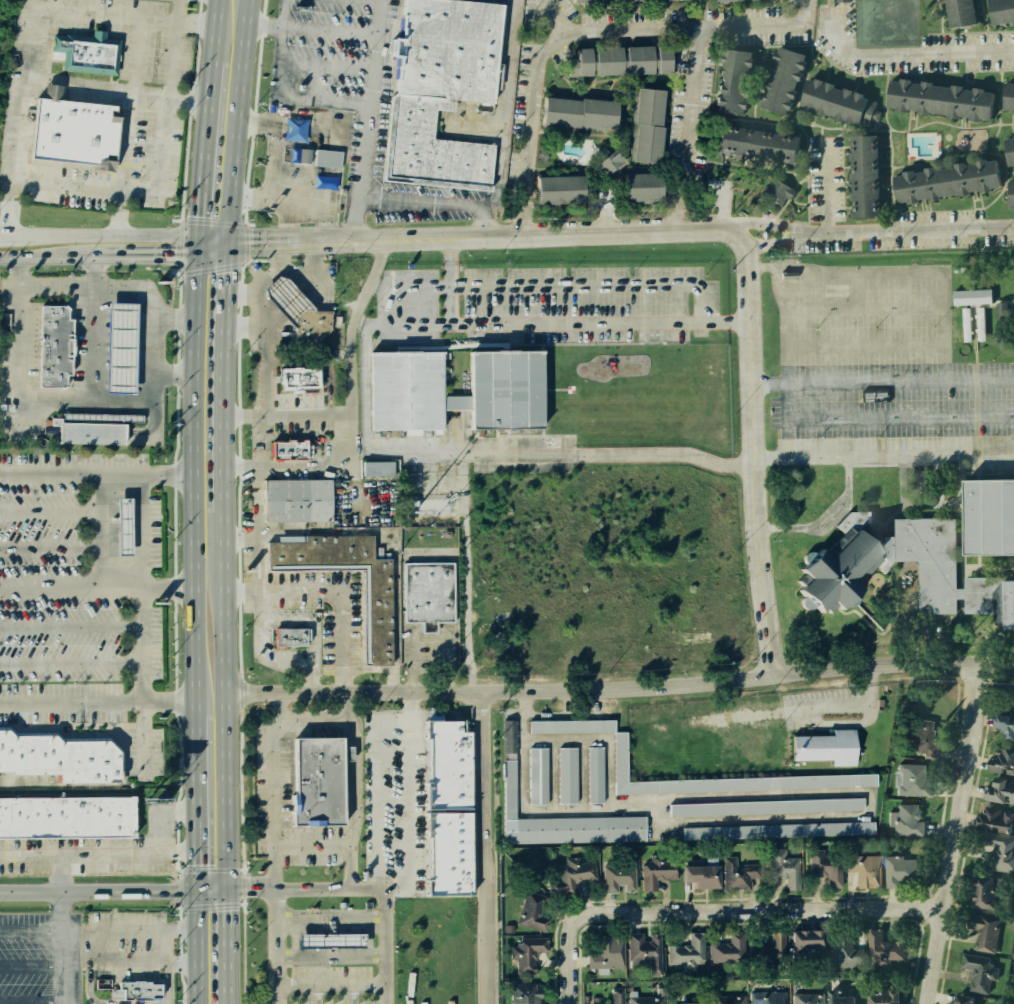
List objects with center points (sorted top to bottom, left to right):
building: (607, 0)
building: (732, 0)
building: (843, 1)
building: (1000, 10)
building: (957, 12)
road: (122, 13)
road: (684, 17)
building: (886, 20)
road: (262, 22)
parking lot: (128, 35)
building: (90, 52)
road: (902, 54)
road: (505, 60)
building: (615, 60)
building: (729, 80)
building: (778, 80)
building: (437, 89)
road: (113, 91)
road: (274, 92)
building: (935, 97)
road: (530, 100)
building: (1007, 100)
building: (836, 101)
road: (130, 102)
parking lot: (358, 103)
road: (687, 105)
building: (1013, 110)
building: (572, 112)
road: (16, 116)
road: (364, 120)
road: (254, 123)
building: (641, 126)
road: (204, 128)
building: (293, 128)
building: (74, 131)
building: (752, 141)
building: (1008, 149)
building: (312, 156)
building: (605, 159)
road: (498, 166)
parking lot: (119, 168)
building: (861, 175)
building: (942, 180)
road: (159, 181)
building: (322, 181)
road: (825, 184)
building: (635, 185)
building: (555, 187)
road: (269, 189)
building: (1010, 190)
building: (778, 192)
road: (248, 199)
road: (434, 200)
road: (676, 209)
road: (118, 212)
road: (524, 218)
road: (478, 219)
road: (288, 220)
road: (323, 220)
road: (756, 224)
road: (702, 228)
road: (807, 231)
road: (0, 232)
road: (113, 234)
road: (919, 234)
traffic signals: (197, 236)
traffic signals: (225, 244)
road: (210, 251)
road: (155, 258)
traffic signals: (196, 258)
road: (43, 259)
road: (100, 259)
street lamp: (729, 268)
street lamp: (706, 273)
street lamp: (504, 275)
street lamp: (630, 275)
street lamp: (567, 276)
road: (448, 280)
road: (566, 283)
building: (969, 297)
building: (1012, 298)
road: (148, 303)
parking lot: (541, 305)
street lamp: (438, 306)
road: (785, 311)
building: (1002, 311)
road: (172, 319)
building: (5, 321)
road: (571, 323)
building: (964, 324)
building: (979, 324)
building: (310, 325)
street lamp: (933, 327)
street lamp: (873, 328)
road: (89, 329)
street lamp: (816, 329)
flagpole: (460, 333)
flagpole: (453, 334)
flagpole: (447, 336)
building: (53, 345)
building: (116, 346)
gas station: (116, 346)
road: (265, 349)
street lamp: (674, 352)
street lamp: (584, 355)
parking lot: (879, 364)
road: (172, 373)
building: (405, 374)
building: (298, 377)
road: (900, 382)
road: (769, 383)
road: (22, 390)
road: (351, 409)
road: (286, 413)
road: (883, 418)
building: (88, 432)
road: (788, 438)
building: (287, 449)
road: (563, 455)
road: (883, 457)
building: (378, 468)
road: (96, 474)
road: (222, 501)
building: (297, 503)
road: (49, 509)
building: (985, 512)
road: (823, 518)
building: (117, 524)
gas station: (117, 524)
building: (125, 526)
road: (98, 530)
road: (49, 546)
building: (837, 575)
road: (96, 587)
road: (468, 590)
road: (331, 592)
building: (430, 594)
parking lot: (83, 598)
building: (989, 599)
road: (259, 603)
building: (376, 615)
road: (140, 623)
road: (70, 626)
road: (193, 630)
road: (432, 635)
building: (290, 639)
road: (265, 656)
road: (70, 662)
road: (308, 679)
road: (619, 690)
road: (97, 700)
road: (347, 704)
road: (275, 705)
road: (432, 715)
building: (1003, 722)
building: (569, 725)
building: (920, 735)
road: (597, 737)
building: (823, 746)
building: (58, 757)
building: (997, 759)
road: (480, 765)
building: (506, 768)
road: (550, 772)
road: (580, 772)
building: (594, 774)
building: (906, 774)
building: (537, 775)
building: (566, 775)
building: (726, 779)
building: (318, 783)
road: (376, 792)
building: (995, 792)
road: (773, 795)
road: (407, 801)
building: (764, 806)
road: (529, 807)
building: (441, 808)
building: (64, 814)
road: (161, 814)
building: (994, 817)
road: (750, 820)
building: (907, 820)
building: (776, 829)
road: (959, 834)
road: (351, 840)
road: (311, 847)
building: (990, 847)
road: (97, 853)
road: (272, 860)
building: (899, 865)
building: (826, 870)
building: (655, 871)
building: (864, 871)
building: (616, 873)
building: (782, 873)
building: (736, 874)
building: (569, 875)
building: (695, 875)
traffic signals: (195, 887)
traffic signals: (224, 887)
road: (112, 889)
road: (287, 889)
building: (980, 891)
road: (780, 908)
building: (528, 911)
road: (328, 921)
road: (486, 921)
road: (65, 929)
building: (797, 929)
road: (130, 930)
building: (981, 930)
road: (33, 931)
building: (839, 938)
building: (325, 939)
gas station: (325, 939)
road: (576, 945)
building: (882, 947)
building: (725, 949)
building: (603, 950)
building: (769, 950)
building: (685, 951)
building: (640, 952)
building: (525, 954)
road: (329, 955)
road: (130, 962)
road: (33, 964)
road: (168, 966)
building: (981, 975)
road: (329, 986)
road: (89, 990)
building: (133, 990)
building: (838, 992)
building: (523, 993)
road: (315, 995)
road: (350, 995)
building: (765, 995)
building: (883, 995)
building: (606, 996)
building: (803, 996)
building: (956, 998)
building: (642, 999)
building: (682, 999)
building: (725, 999)
road: (33, 1001)

